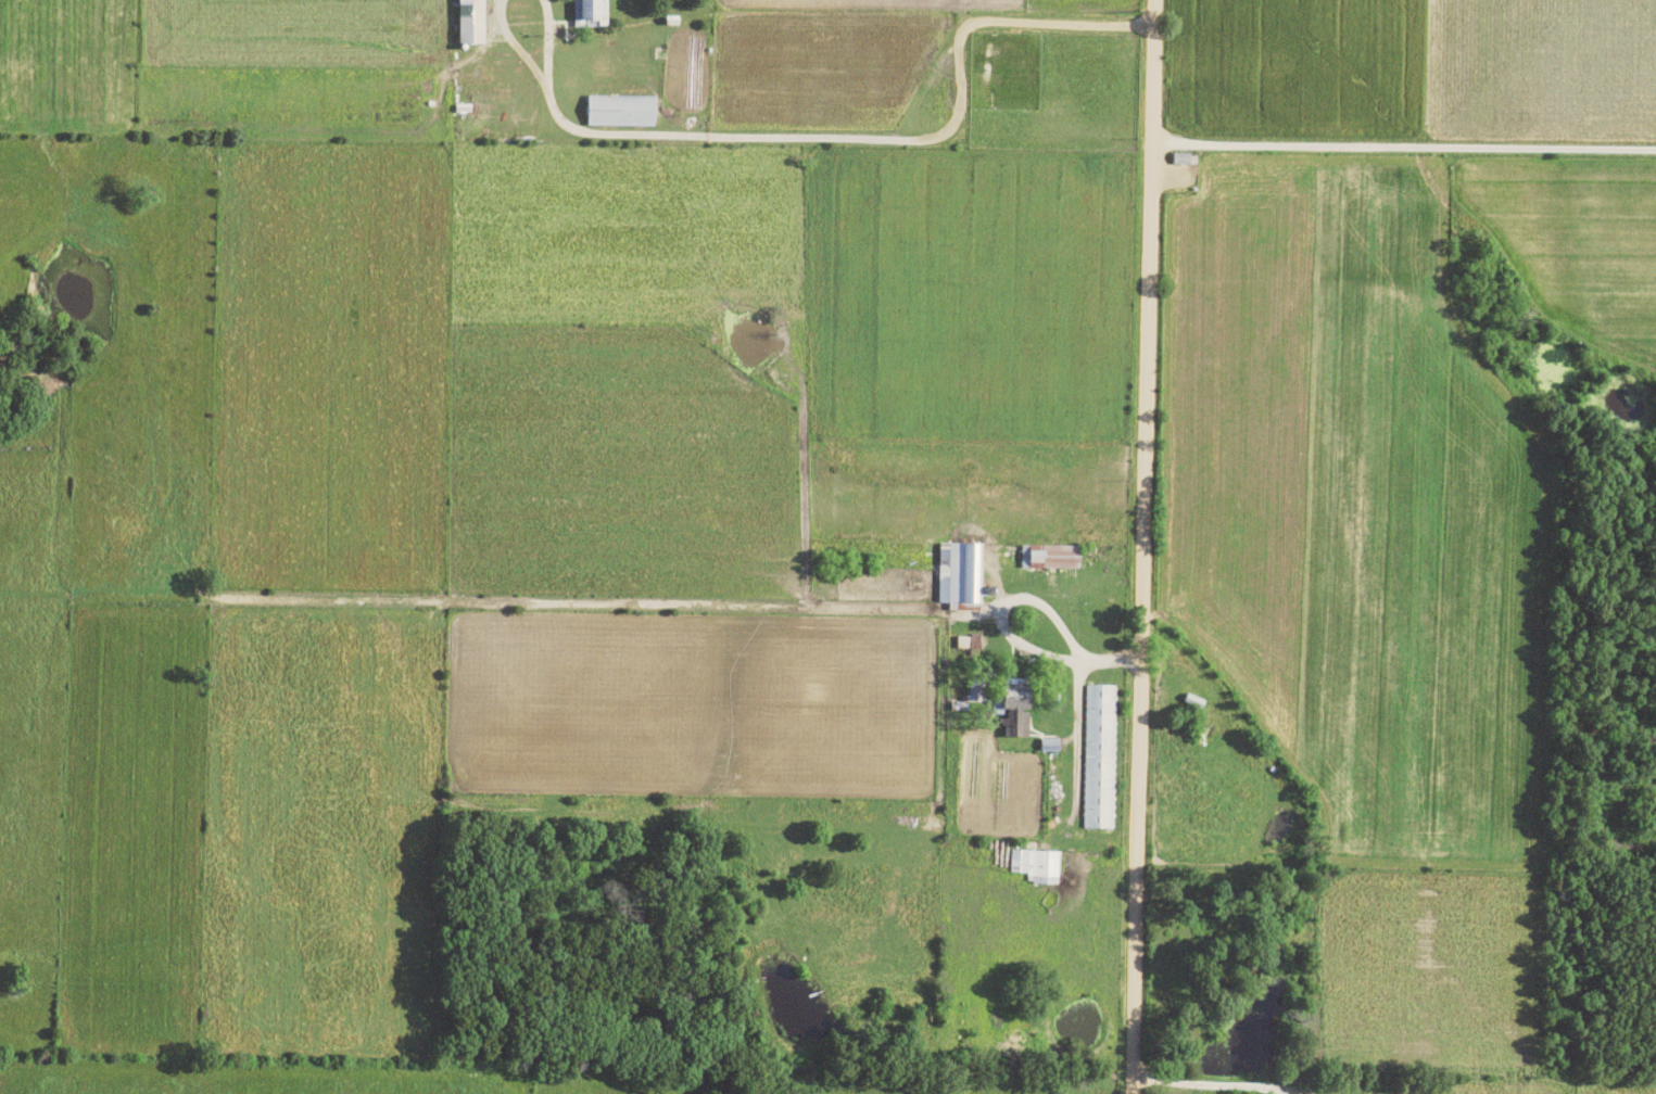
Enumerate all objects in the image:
building: (590, 13)
building: (470, 22)
road: (551, 41)
road: (518, 44)
park: (1002, 71)
building: (620, 112)
road: (883, 140)
road: (1400, 147)
building: (1181, 160)
road: (1138, 547)
building: (1050, 558)
road: (540, 602)
road: (1023, 651)
road: (1072, 704)
building: (1049, 746)
building: (1100, 758)
building: (1037, 866)
road: (1198, 1084)

